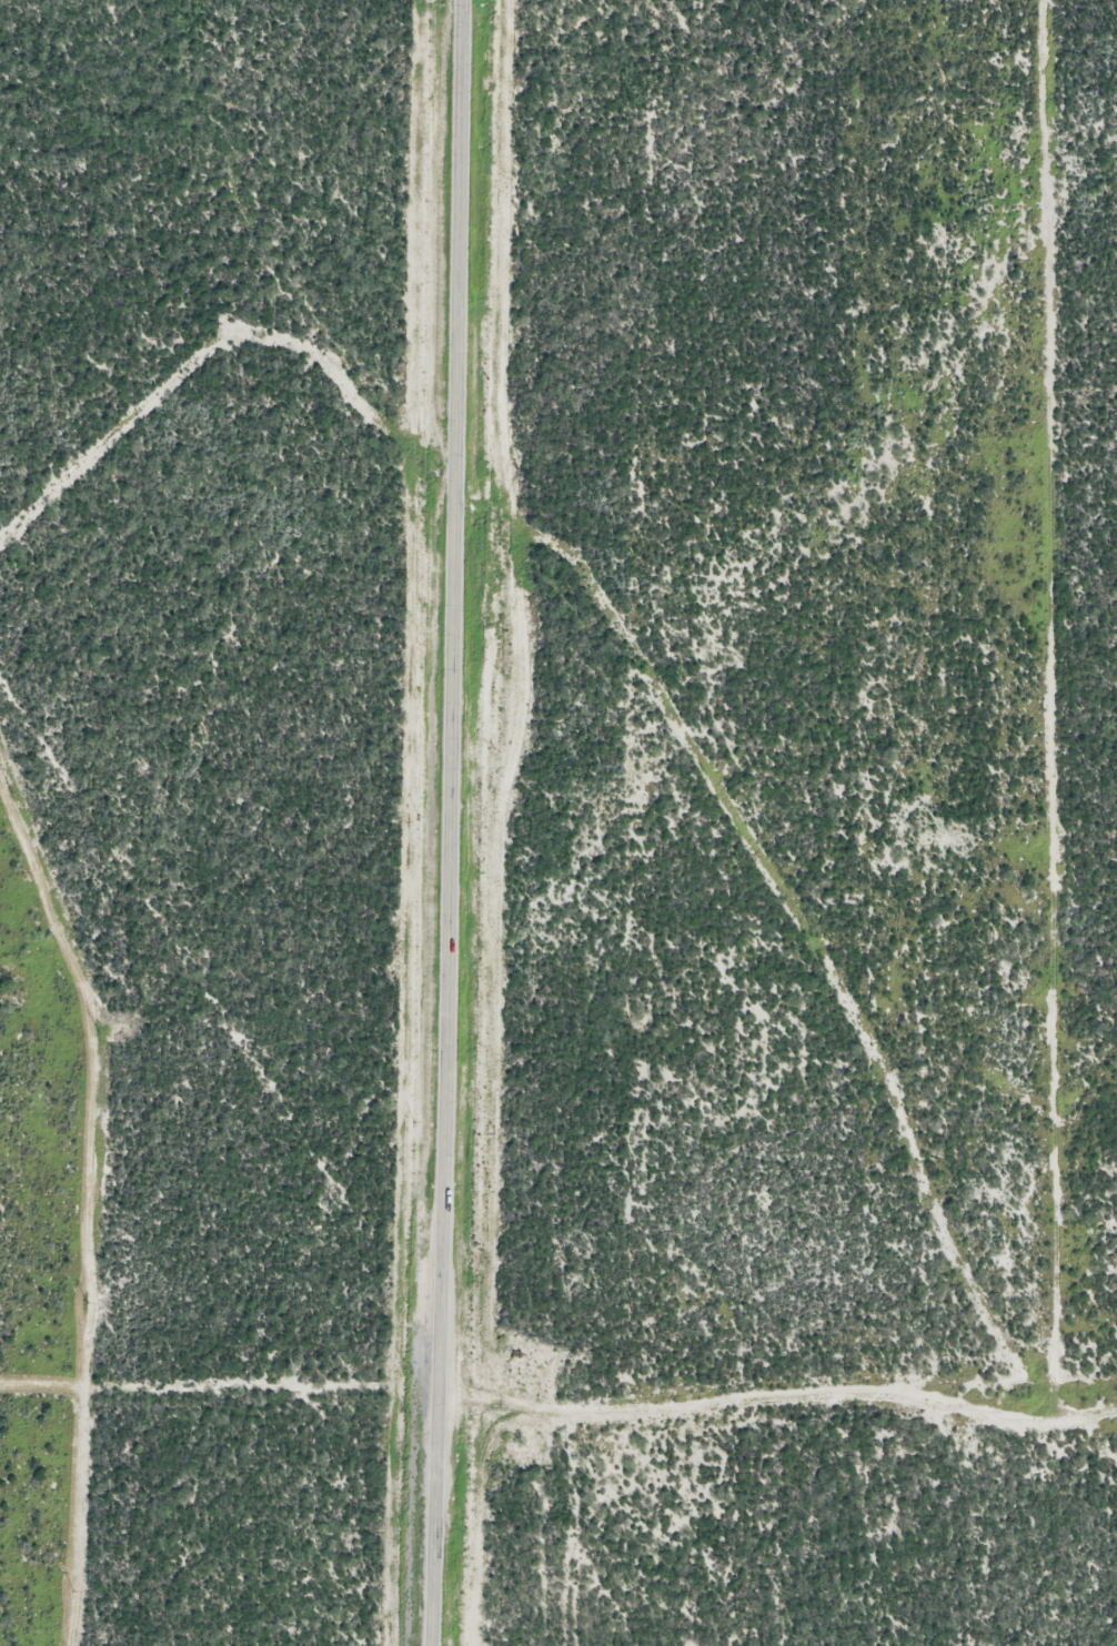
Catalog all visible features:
power tower: (12, 790)
road: (442, 822)
power tower: (98, 1032)
power tower: (87, 1304)
road: (773, 1407)
power tower: (73, 1591)

